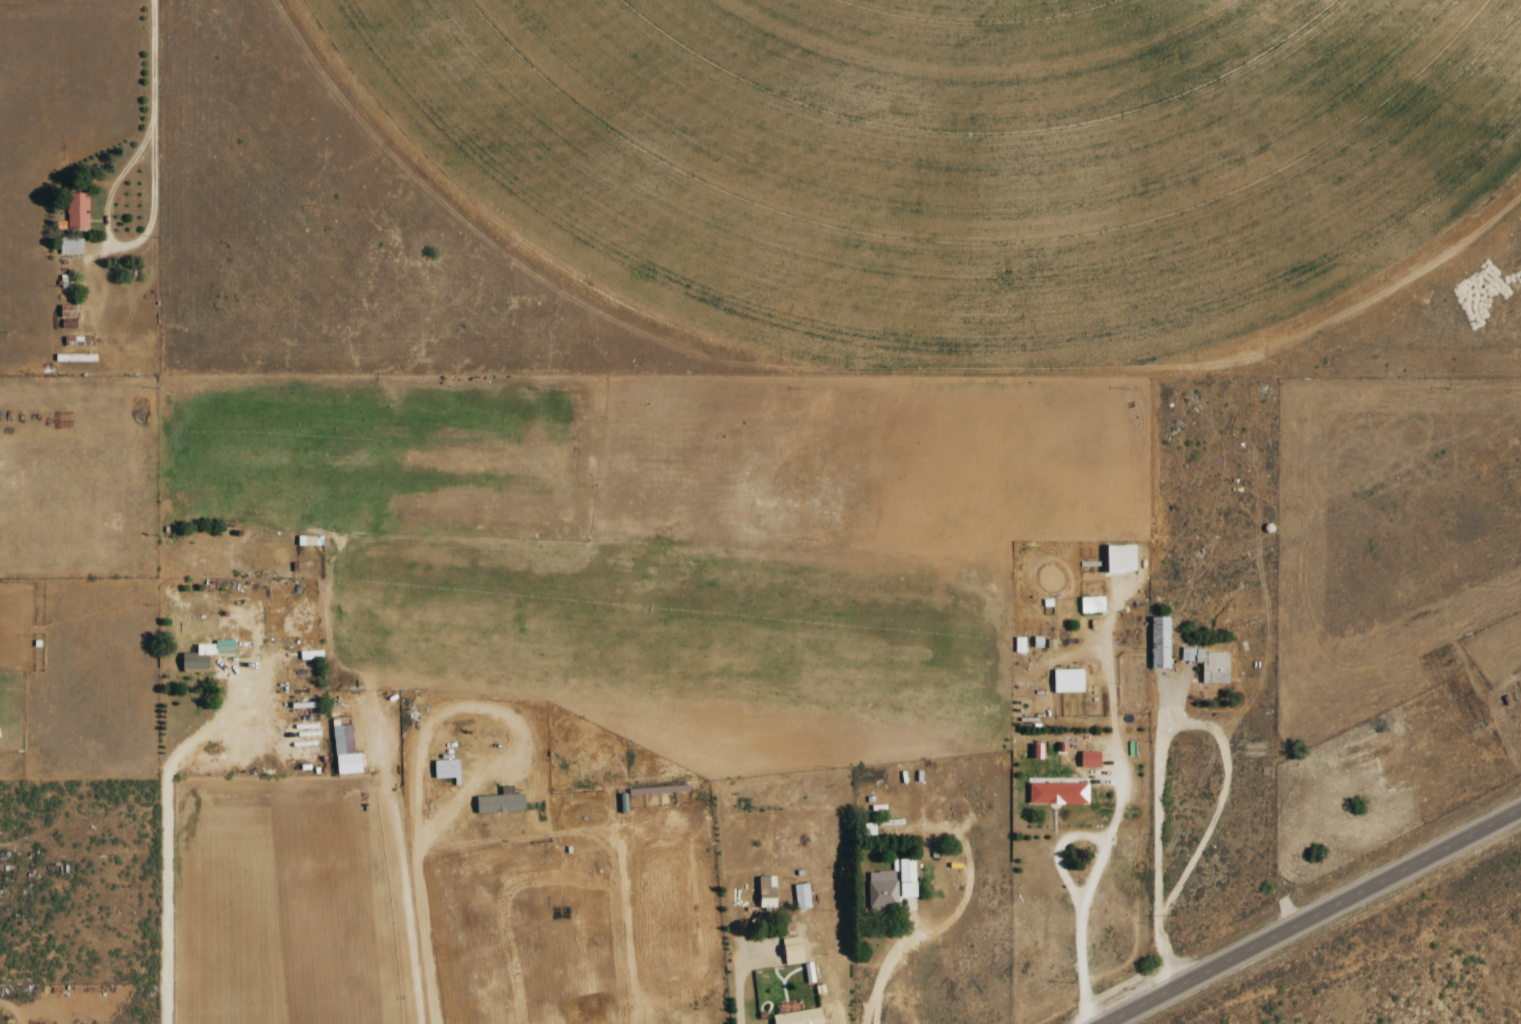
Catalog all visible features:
road: (151, 91)
building: (78, 211)
building: (71, 246)
building: (1120, 558)
building: (1092, 604)
building: (1038, 642)
building: (1160, 642)
building: (1020, 645)
building: (206, 654)
building: (311, 655)
building: (1209, 664)
building: (1068, 681)
building: (345, 750)
building: (1037, 751)
building: (1090, 760)
building: (445, 769)
building: (1058, 793)
building: (500, 802)
road: (186, 824)
building: (869, 829)
building: (906, 877)
building: (767, 888)
building: (882, 890)
building: (802, 896)
road: (1311, 916)
building: (792, 951)
building: (809, 973)
building: (799, 1017)

